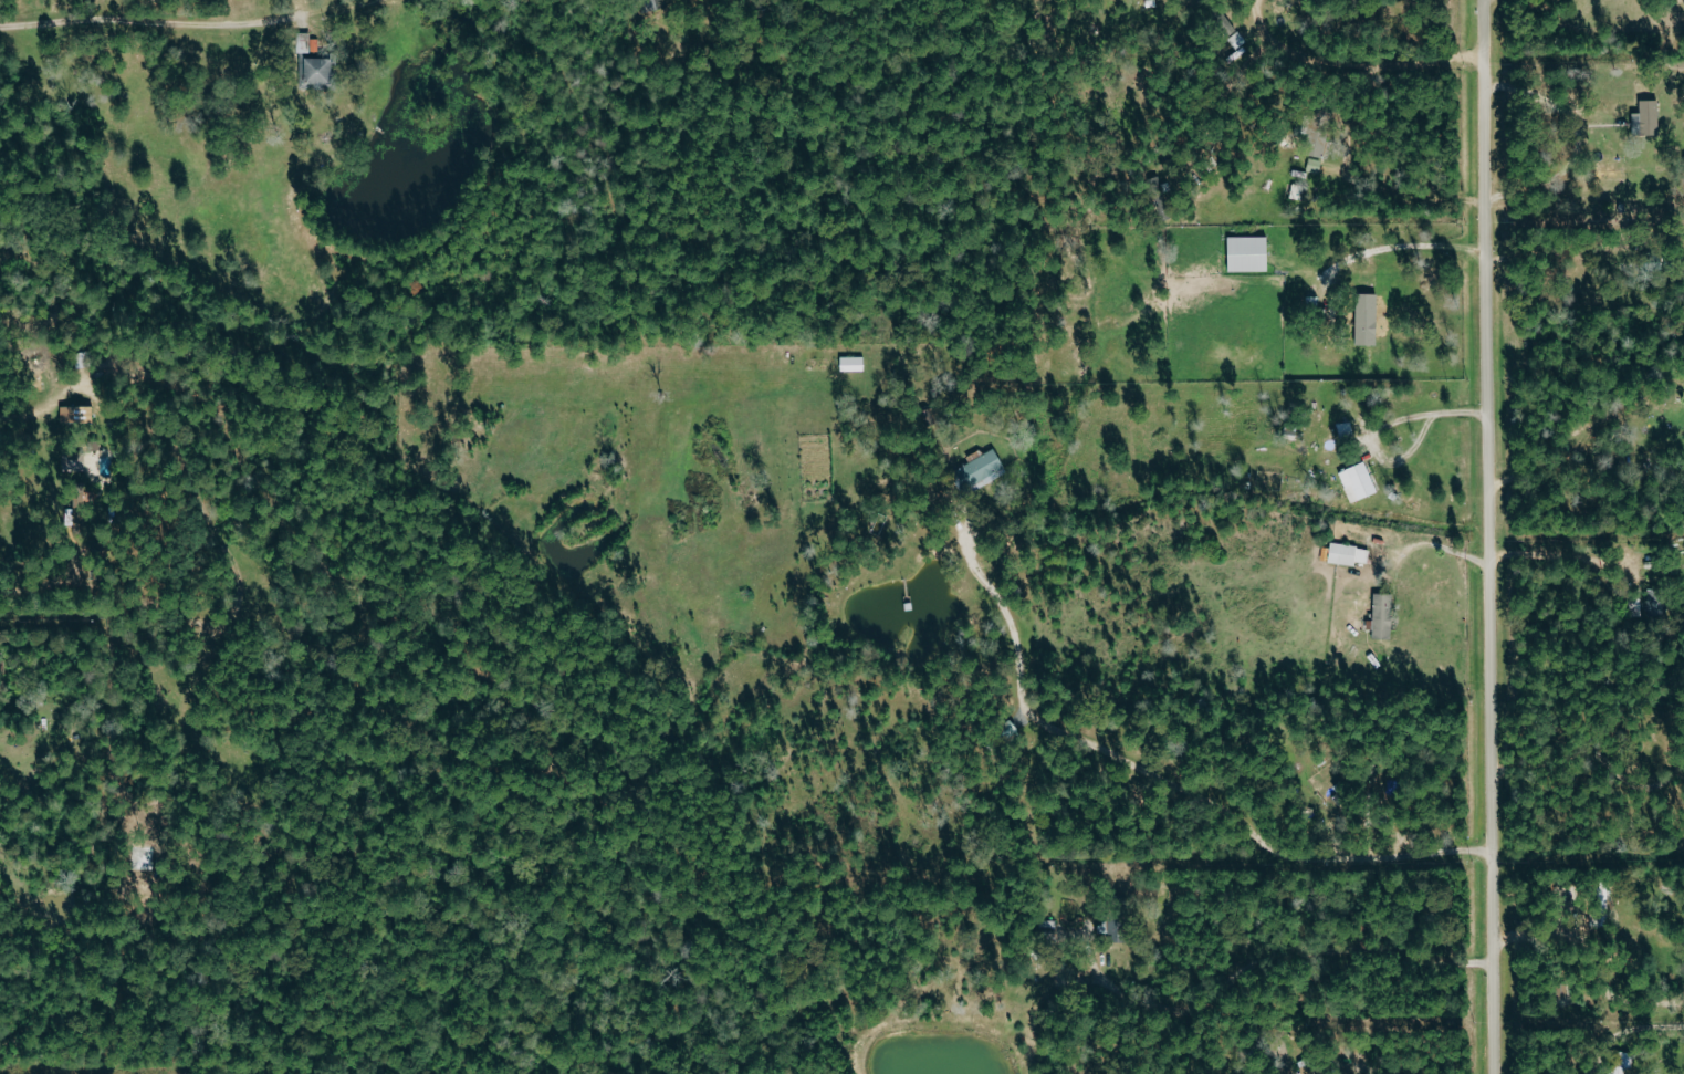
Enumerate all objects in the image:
road: (150, 20)
road: (1603, 28)
road: (1350, 62)
building: (318, 70)
road: (1536, 101)
building: (1646, 118)
building: (1317, 139)
building: (1314, 165)
road: (1400, 197)
road: (1385, 242)
road: (1468, 249)
road: (1534, 252)
building: (1248, 253)
building: (1367, 320)
building: (851, 364)
building: (75, 415)
road: (1372, 426)
road: (1548, 460)
building: (73, 461)
building: (981, 471)
building: (1358, 482)
building: (76, 509)
road: (1487, 536)
road: (1430, 543)
building: (1348, 554)
road: (1563, 556)
road: (46, 587)
building: (1382, 616)
road: (1592, 752)
road: (1172, 785)
building: (1048, 929)
building: (1113, 930)
road: (1279, 958)
road: (1413, 1018)
road: (1625, 1031)
building: (1622, 1062)
road: (61, 1071)
road: (1378, 1072)

